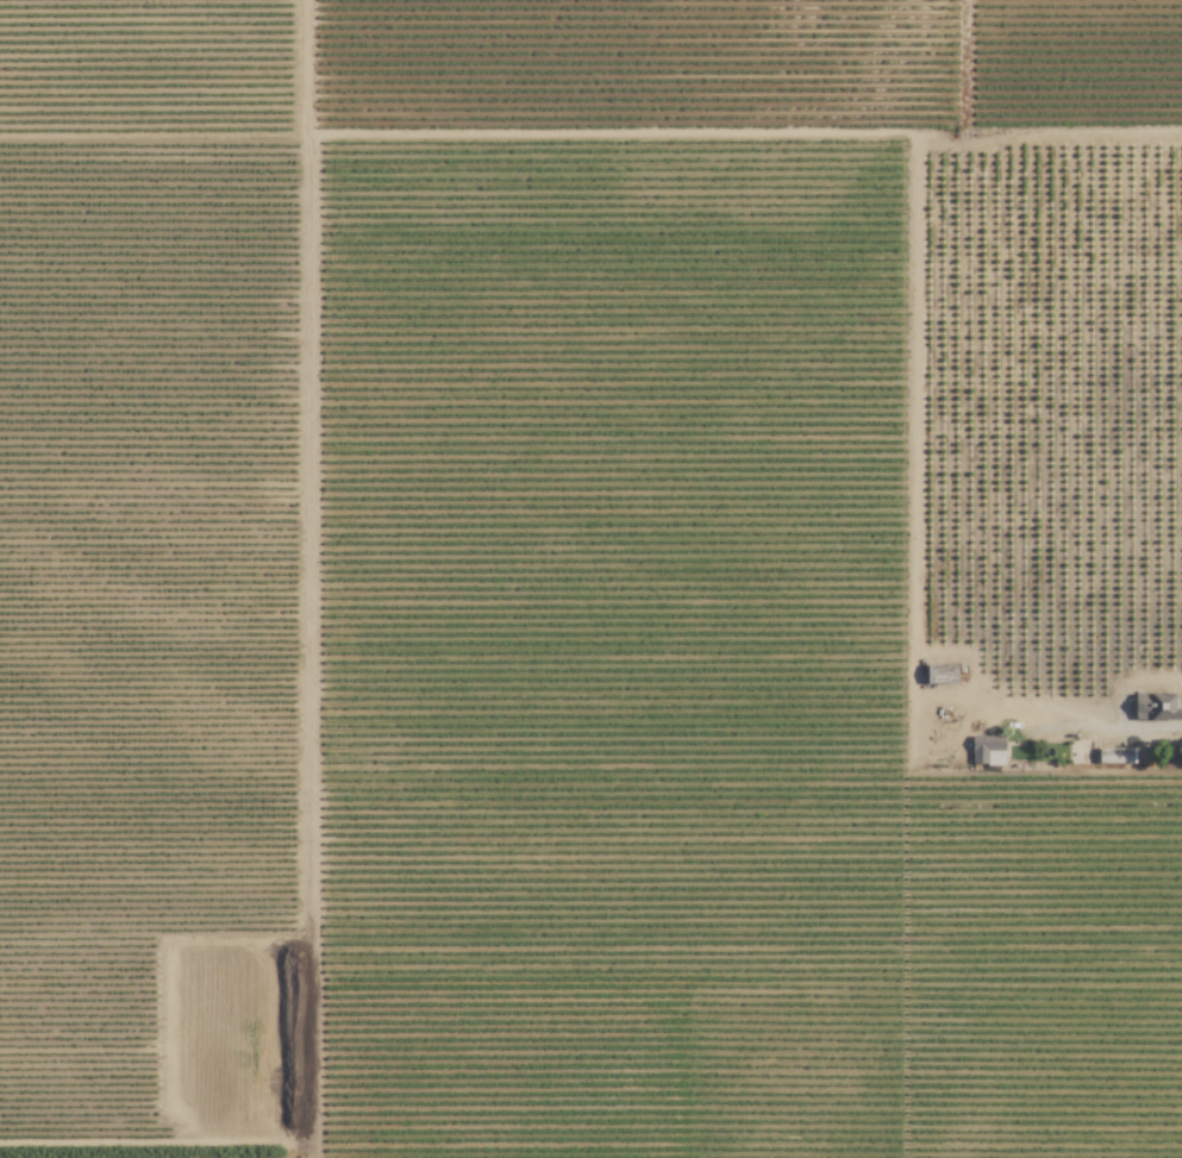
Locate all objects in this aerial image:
road: (309, 578)
building: (942, 674)
road: (1134, 683)
building: (1156, 706)
road: (1050, 713)
building: (988, 750)
building: (1115, 755)
crop: (74, 1157)

